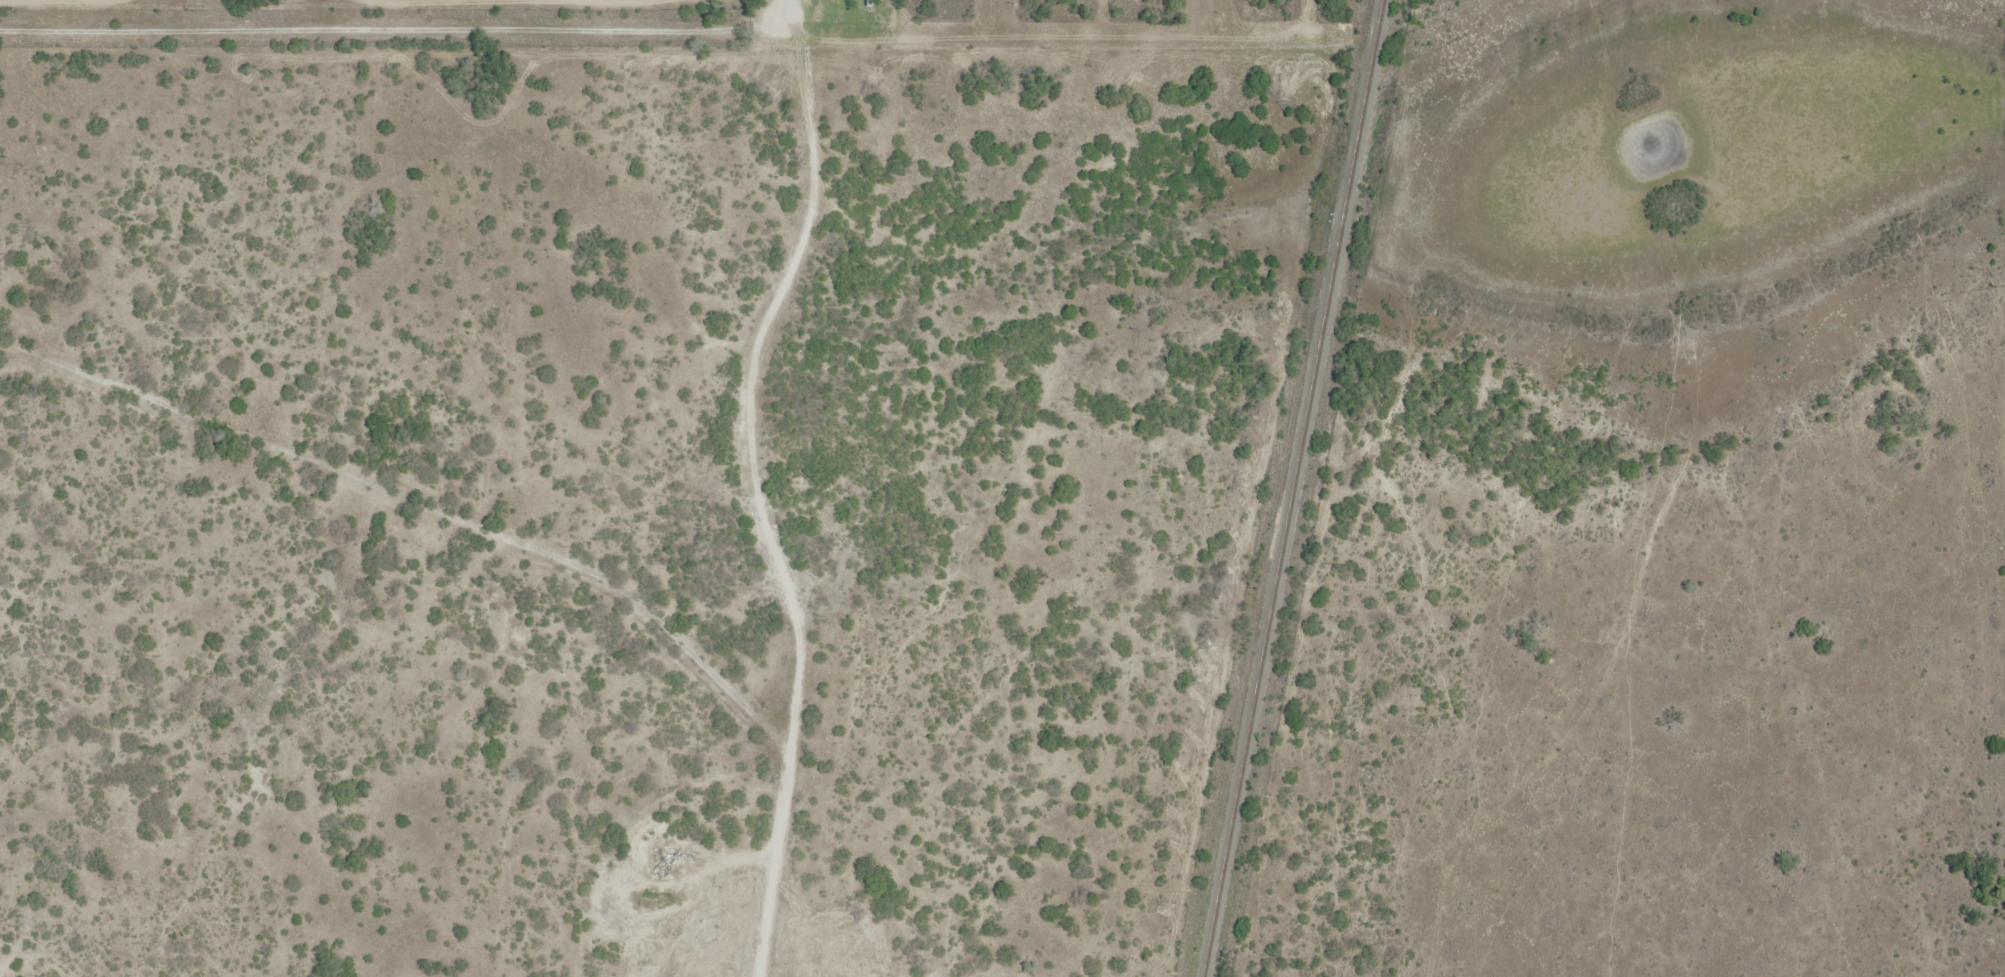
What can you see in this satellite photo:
road: (790, 5)
road: (853, 108)
railway: (1293, 488)

